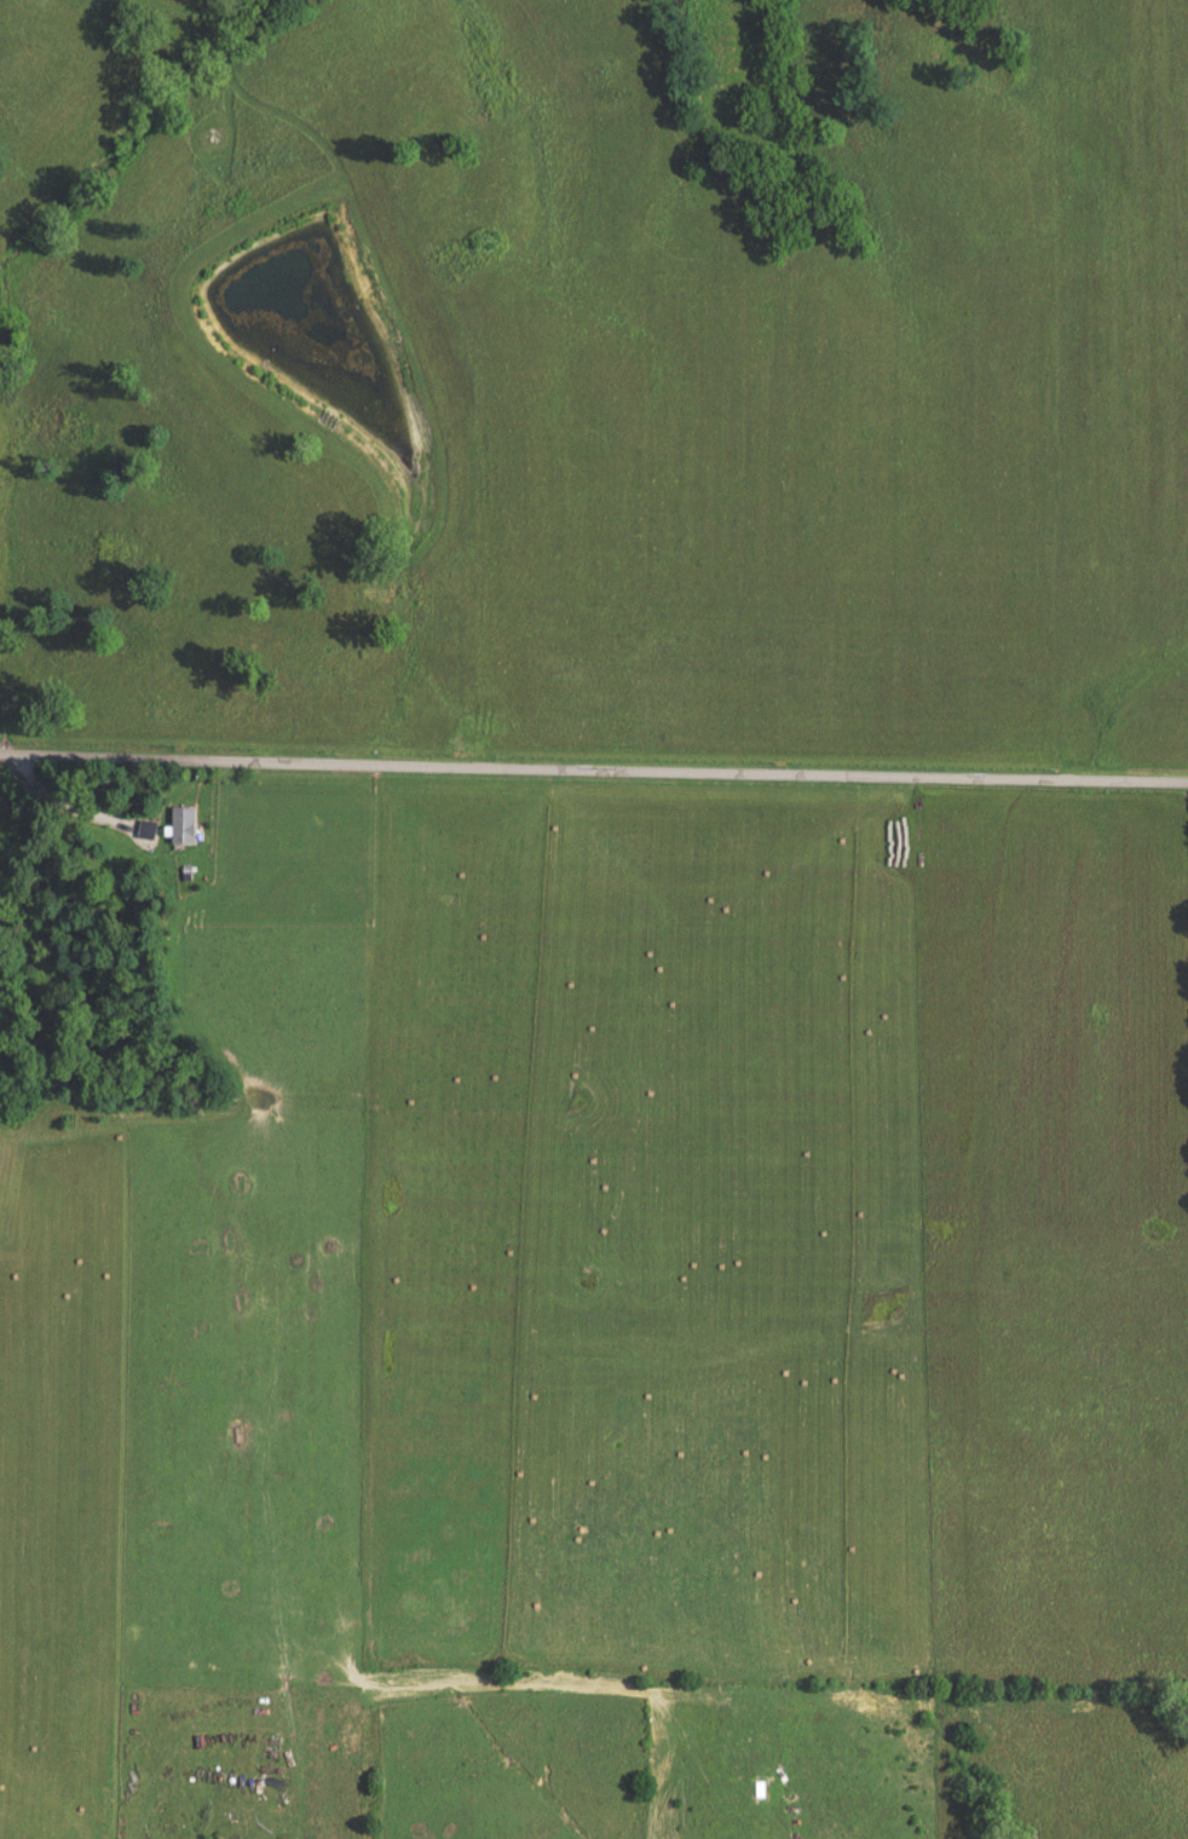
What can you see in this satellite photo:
road: (593, 767)
building: (180, 830)
building: (143, 835)

